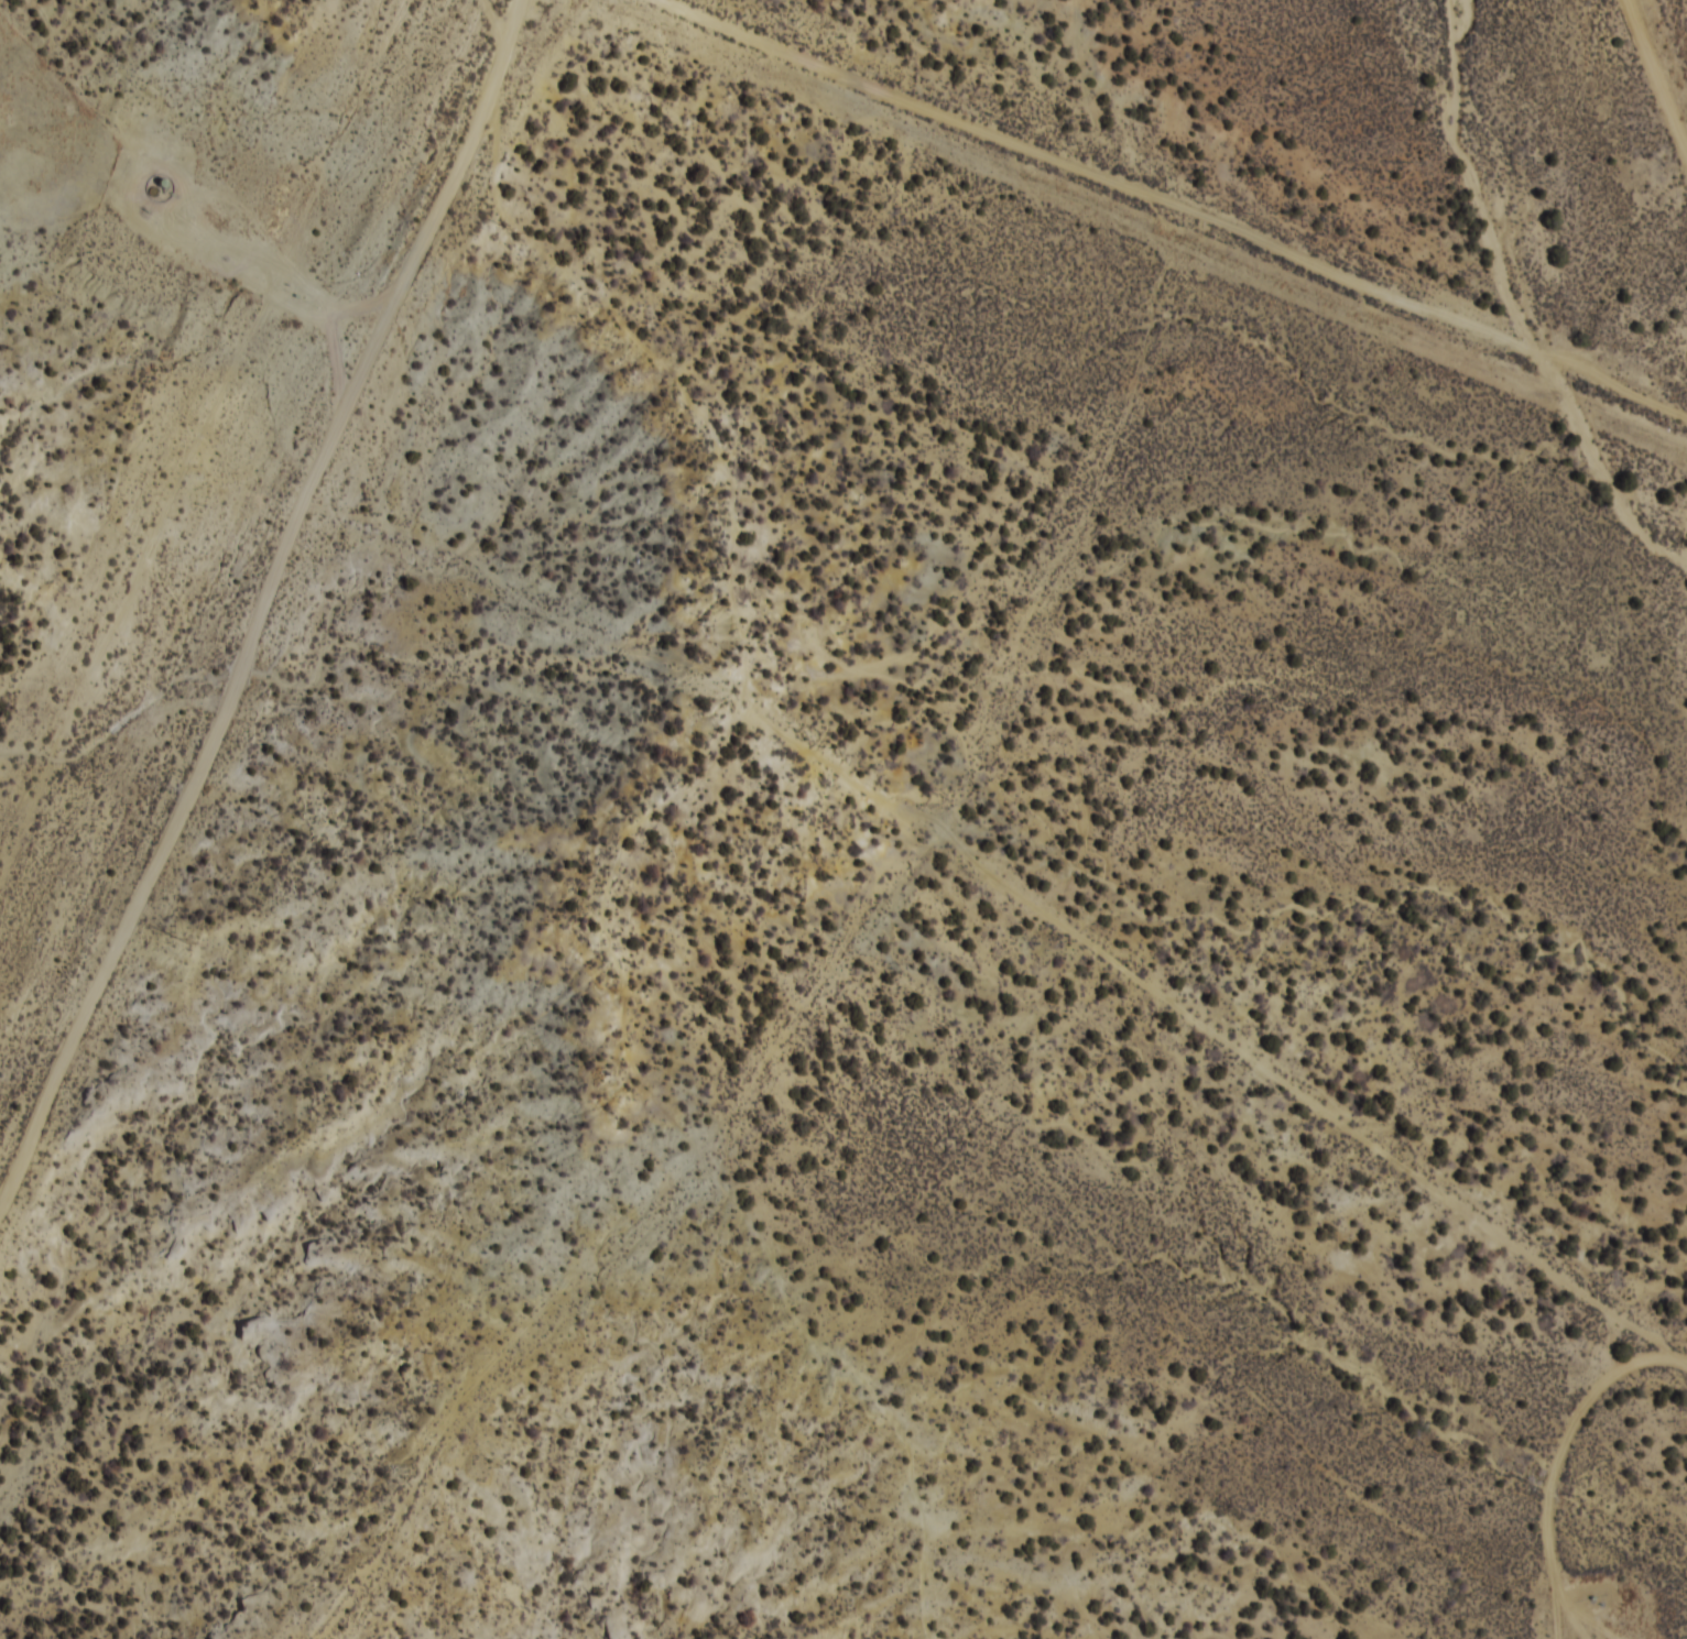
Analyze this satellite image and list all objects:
road: (1667, 43)
road: (467, 151)
road: (1175, 204)
road: (185, 252)
river: (1526, 298)
road: (358, 307)
road: (206, 752)
road: (1579, 1482)

